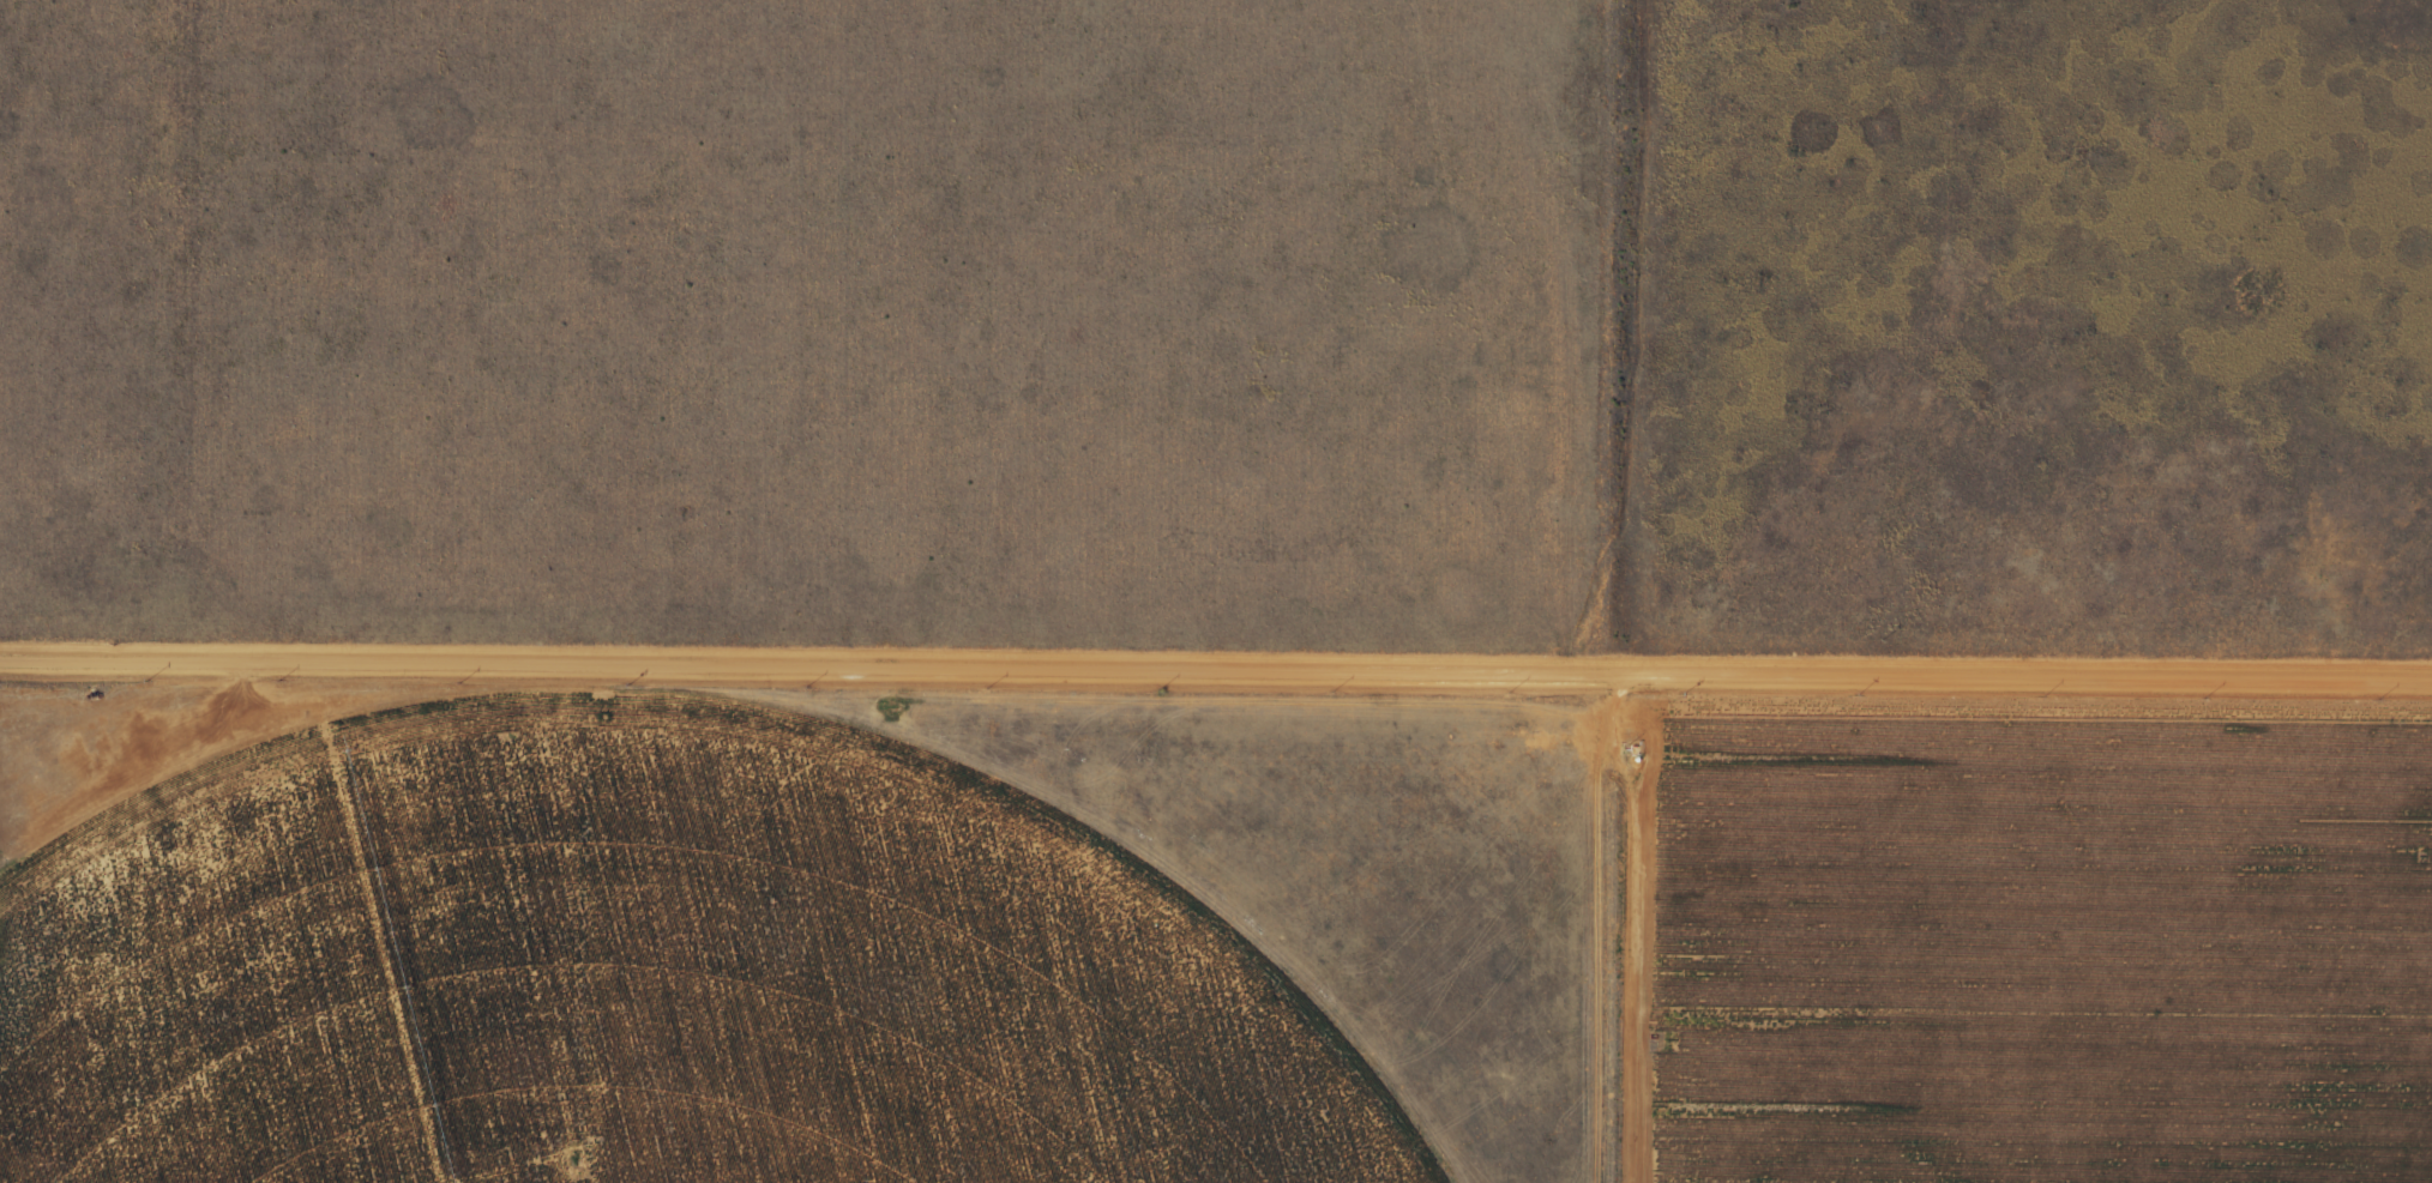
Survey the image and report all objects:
road: (191, 331)
road: (1215, 668)

